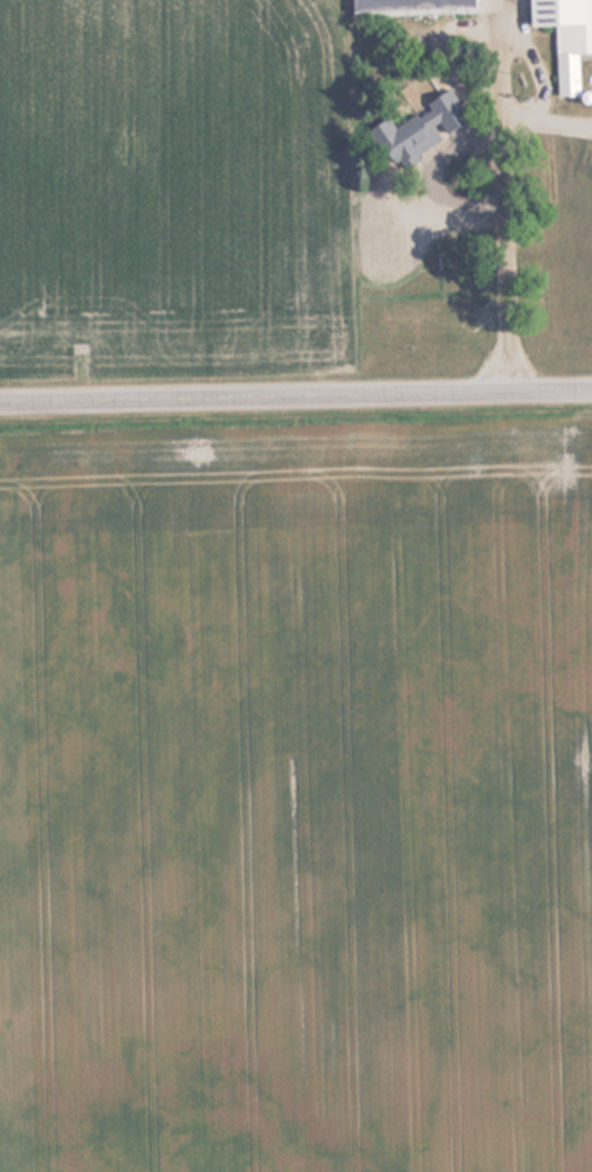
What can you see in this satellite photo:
building: (410, 6)
building: (564, 34)
building: (424, 147)
road: (505, 206)
road: (295, 396)

